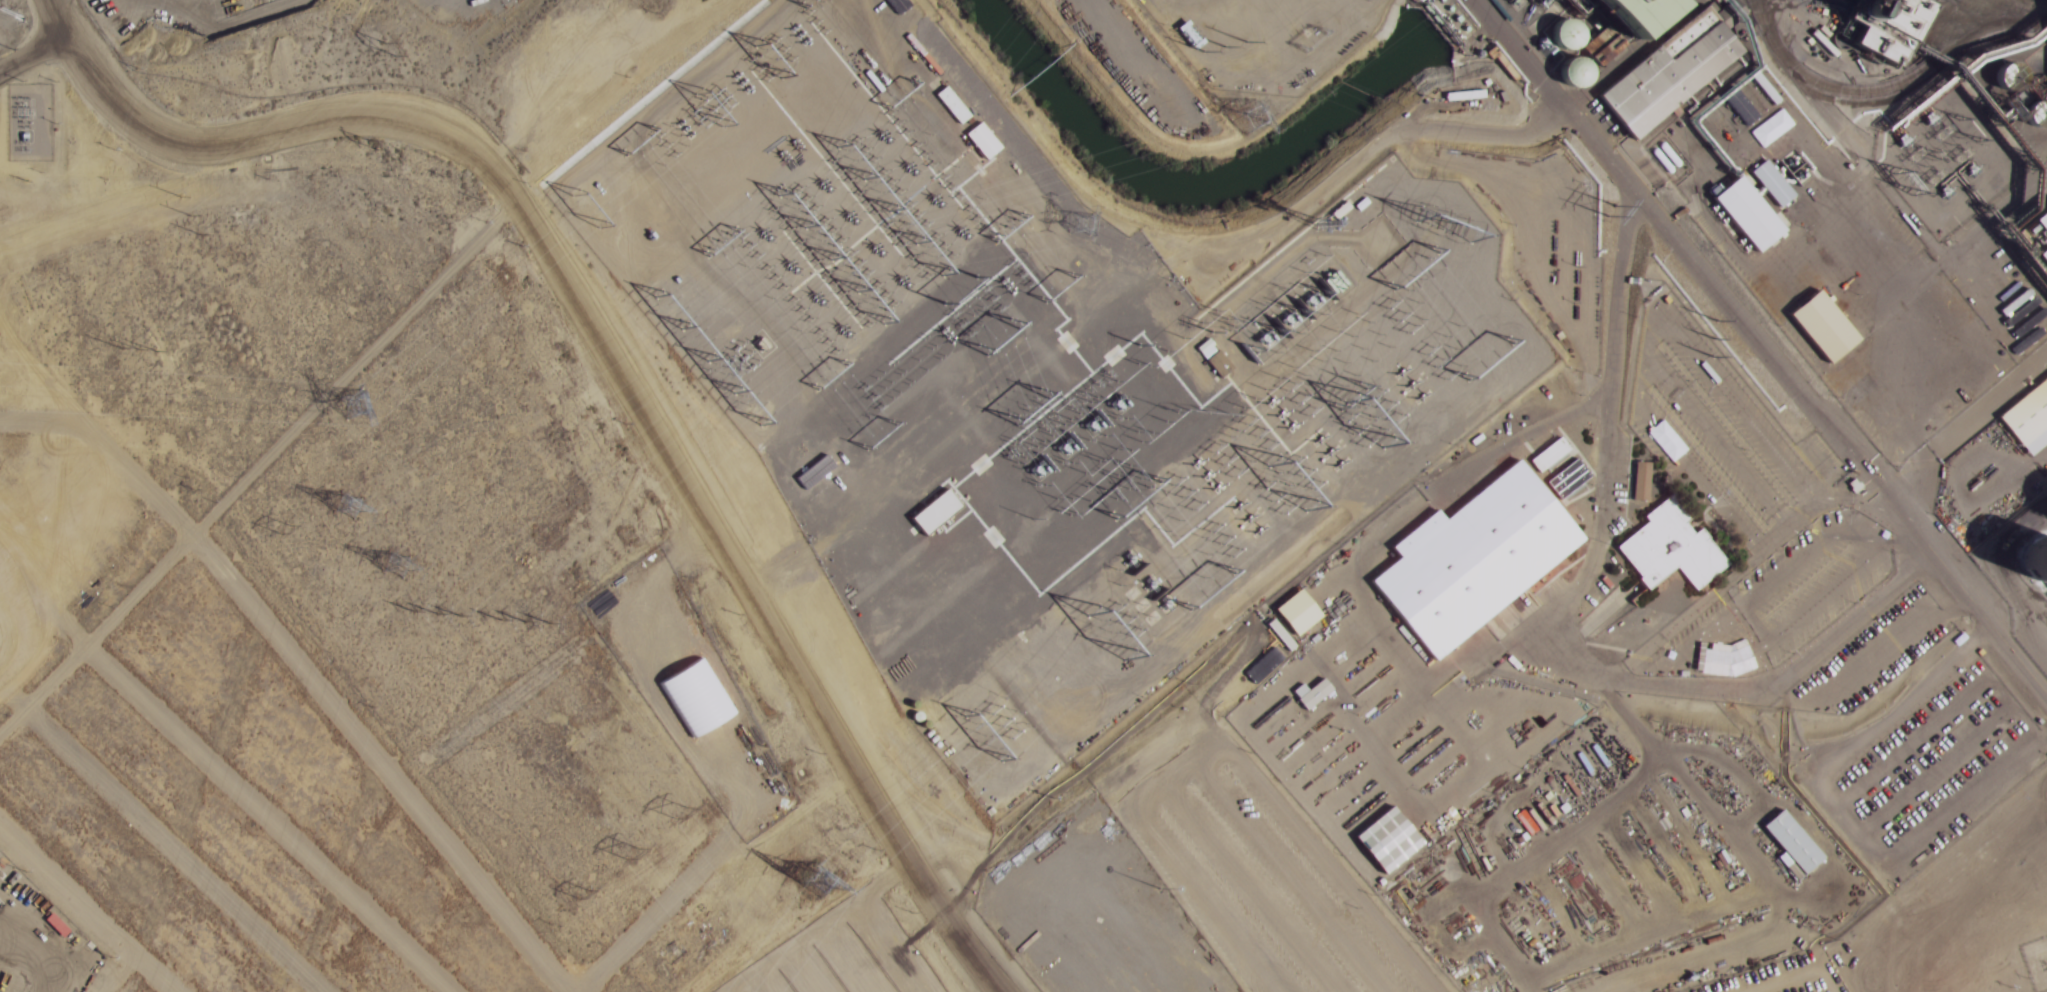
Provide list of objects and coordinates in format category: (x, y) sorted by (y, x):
building: (900, 5)
building: (1642, 13)
road: (60, 18)
building: (1881, 26)
building: (1560, 36)
storage tank: (1560, 36)
power substation: (1270, 38)
power tower: (386, 42)
building: (1604, 45)
road: (34, 53)
building: (1568, 74)
storage tank: (1568, 74)
building: (1662, 75)
building: (1742, 106)
road: (625, 111)
road: (131, 121)
building: (1721, 123)
building: (970, 124)
power tower: (371, 140)
building: (1763, 185)
power substation: (808, 212)
power tower: (188, 214)
building: (1740, 216)
building: (2039, 237)
building: (1816, 328)
power tower: (136, 348)
road: (1753, 356)
building: (1216, 358)
power tower: (356, 395)
building: (2024, 417)
road: (675, 460)
power substation: (1241, 467)
power plant: (1372, 468)
power tower: (343, 499)
power tower: (283, 527)
building: (819, 545)
building: (1660, 550)
power tower: (397, 559)
building: (1463, 561)
building: (2032, 562)
storage tank: (2032, 562)
power tower: (438, 610)
building: (1289, 614)
power tower: (528, 625)
building: (1302, 695)
power tower: (678, 809)
building: (1380, 841)
building: (1783, 847)
power tower: (633, 849)
power tower: (824, 876)
power tower: (585, 891)

